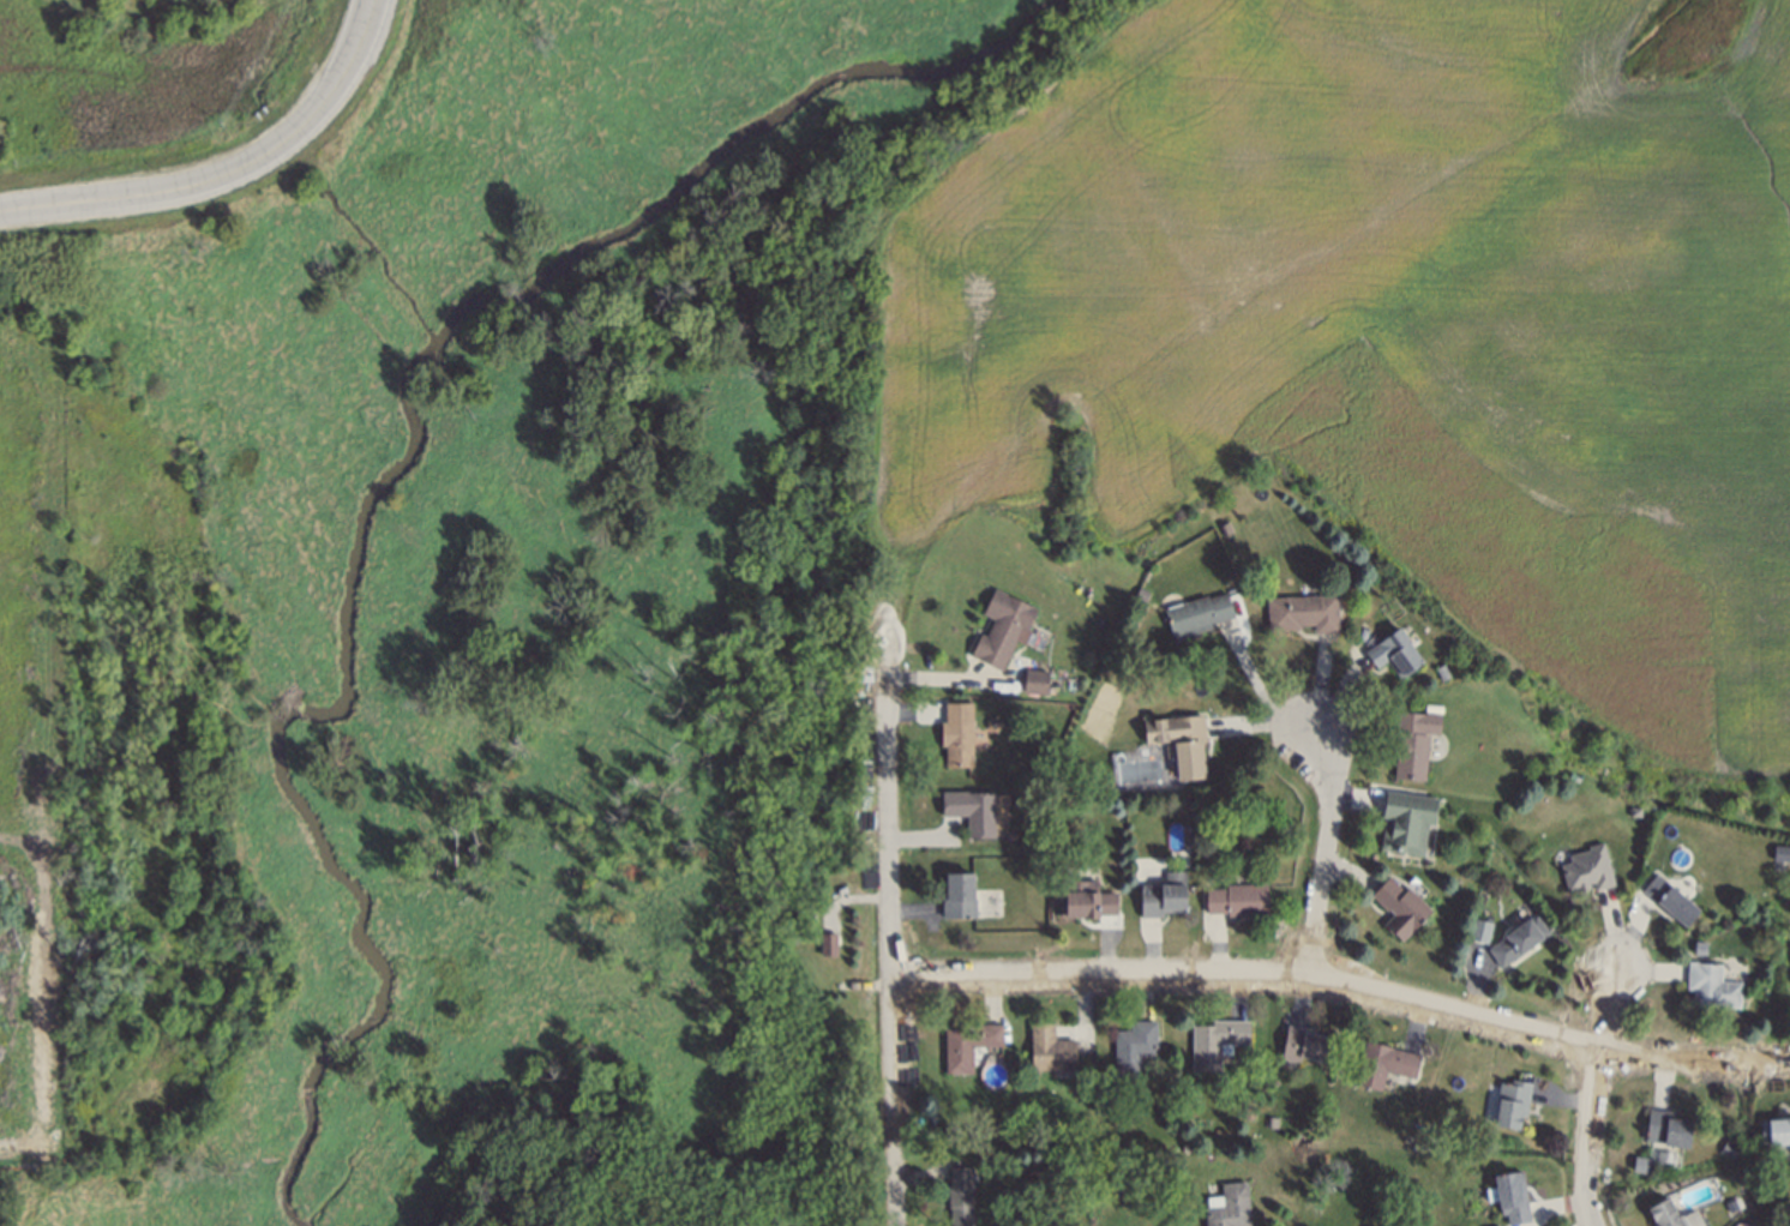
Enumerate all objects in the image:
road: (226, 163)
building: (1221, 527)
building: (1137, 591)
building: (1299, 611)
building: (1194, 612)
building: (999, 626)
building: (1392, 651)
building: (1438, 671)
building: (1038, 678)
road: (1261, 696)
building: (954, 733)
building: (1177, 741)
building: (1410, 741)
building: (1059, 800)
building: (968, 809)
building: (1632, 810)
building: (1404, 821)
building: (1005, 833)
building: (1779, 851)
road: (1325, 853)
building: (1584, 867)
building: (955, 894)
building: (1161, 894)
building: (1081, 895)
building: (1235, 897)
building: (1668, 899)
building: (1396, 905)
building: (1479, 931)
building: (1515, 939)
building: (825, 940)
road: (890, 948)
road: (1344, 982)
building: (1707, 984)
building: (1212, 1040)
building: (965, 1042)
building: (1301, 1042)
building: (1130, 1045)
building: (1046, 1047)
building: (1381, 1062)
road: (1594, 1093)
building: (1508, 1101)
building: (1244, 1110)
building: (1266, 1119)
building: (1086, 1125)
building: (1663, 1126)
building: (1773, 1129)
building: (1183, 1146)
building: (1726, 1147)
building: (1636, 1161)
building: (1026, 1170)
building: (1113, 1183)
building: (957, 1195)
building: (1508, 1196)
building: (1728, 1204)
building: (1225, 1206)
building: (1660, 1213)
building: (1492, 1225)

